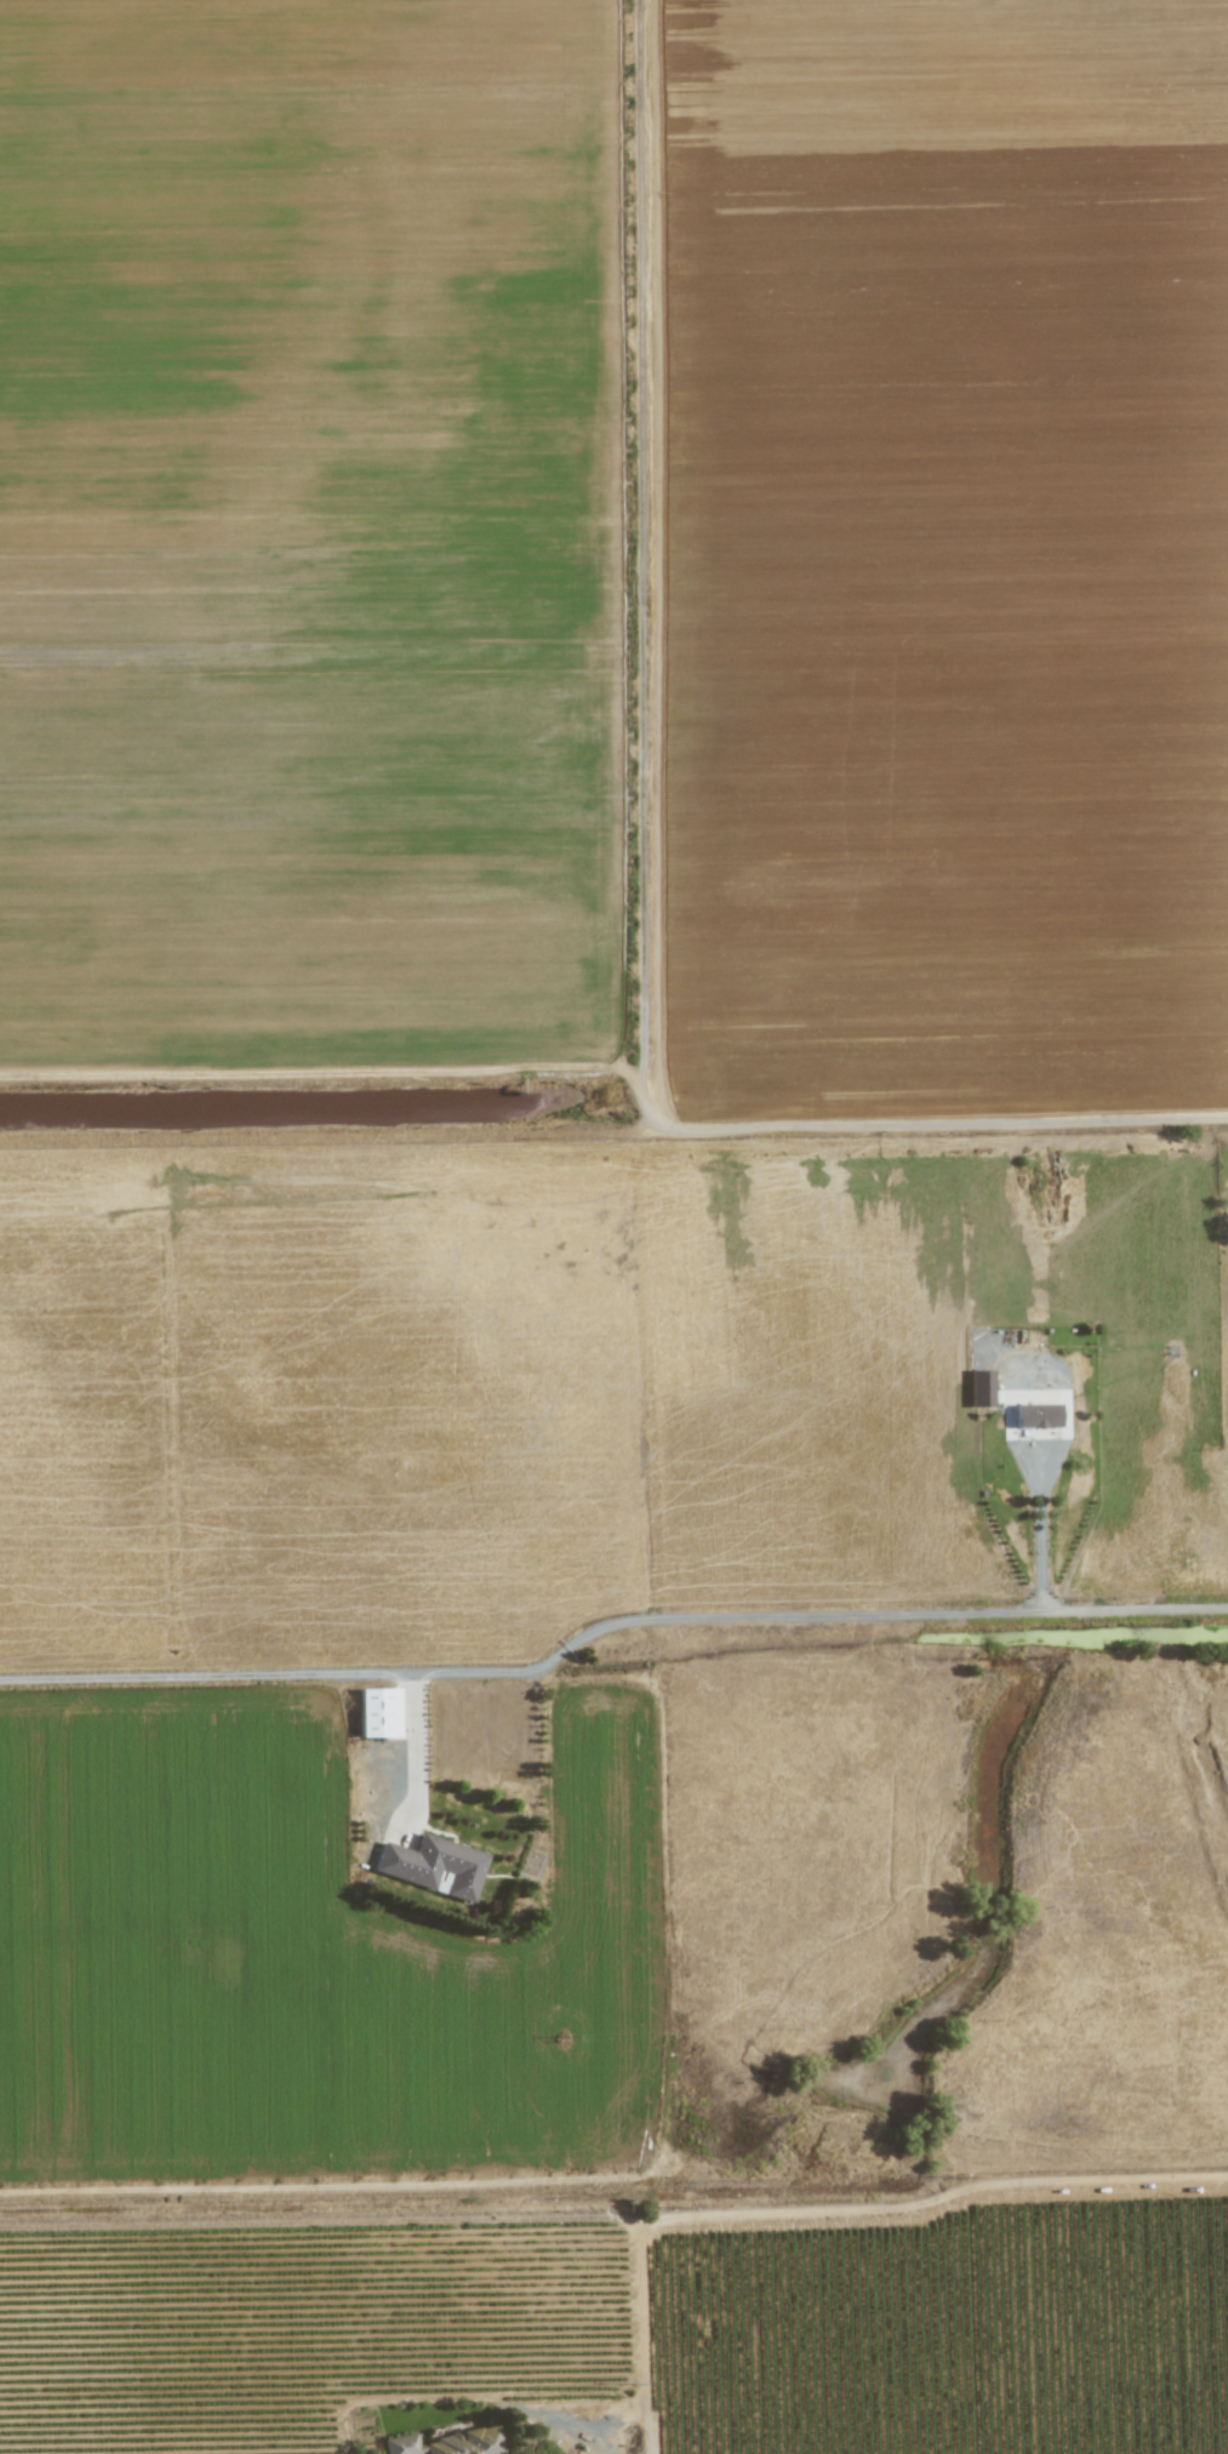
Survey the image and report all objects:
building: (978, 1388)
road: (1034, 1530)
road: (815, 1615)
building: (377, 1713)
road: (416, 1747)
building: (433, 1866)
road: (822, 2209)
building: (444, 2443)

